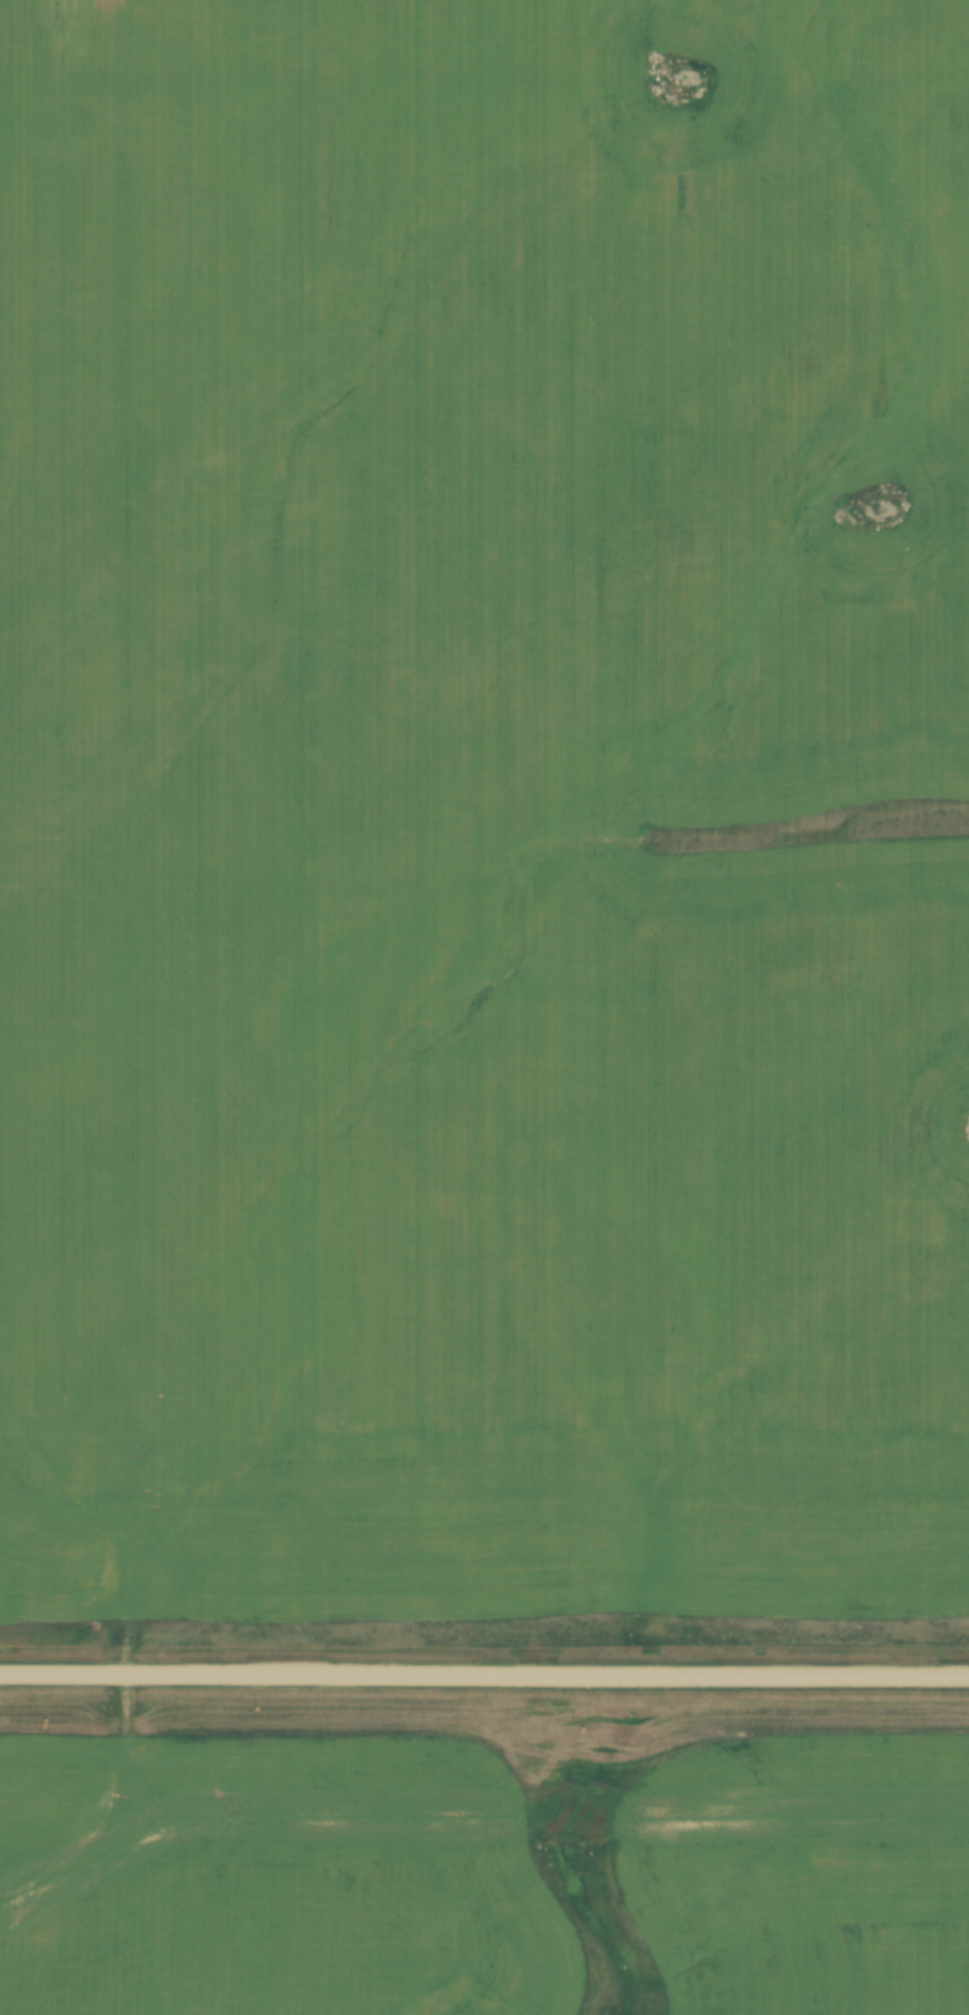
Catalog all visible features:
road: (484, 1673)

